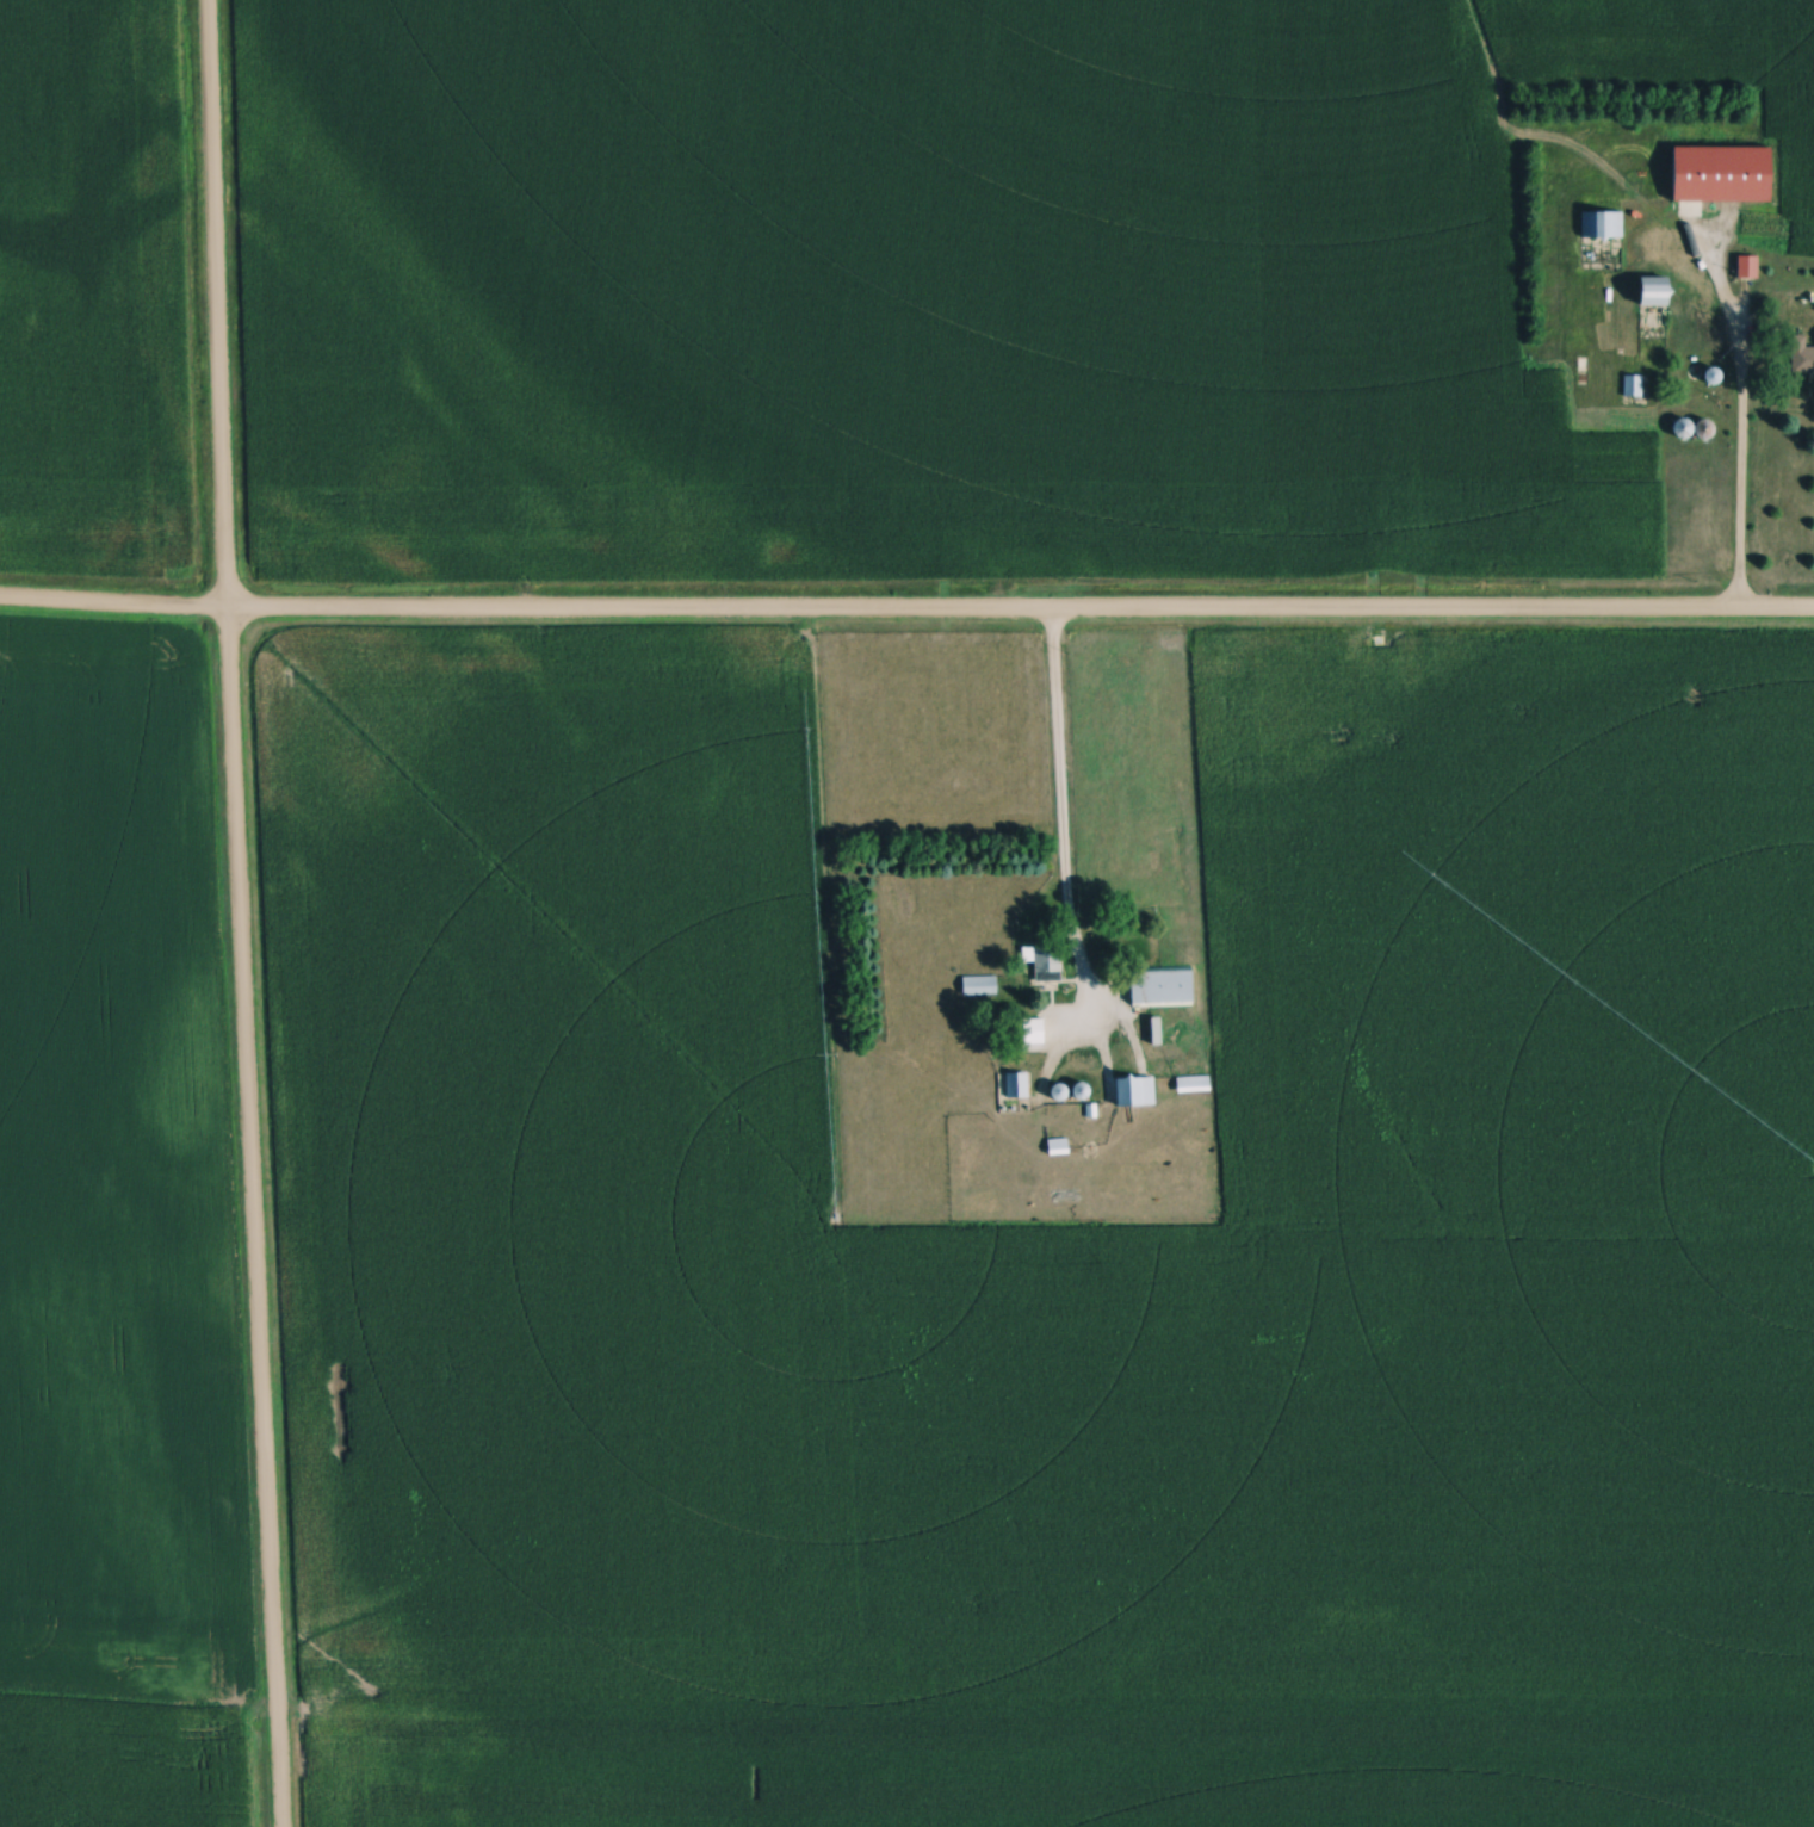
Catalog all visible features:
building: (1702, 174)
building: (1604, 225)
building: (1750, 267)
building: (1660, 292)
building: (1803, 357)
building: (1635, 386)
road: (1739, 479)
road: (906, 611)
road: (1059, 806)
road: (240, 913)
building: (1047, 962)
building: (982, 986)
building: (1165, 987)
building: (1035, 1032)
building: (1170, 1069)
building: (1019, 1086)
building: (1196, 1086)
building: (1140, 1094)

